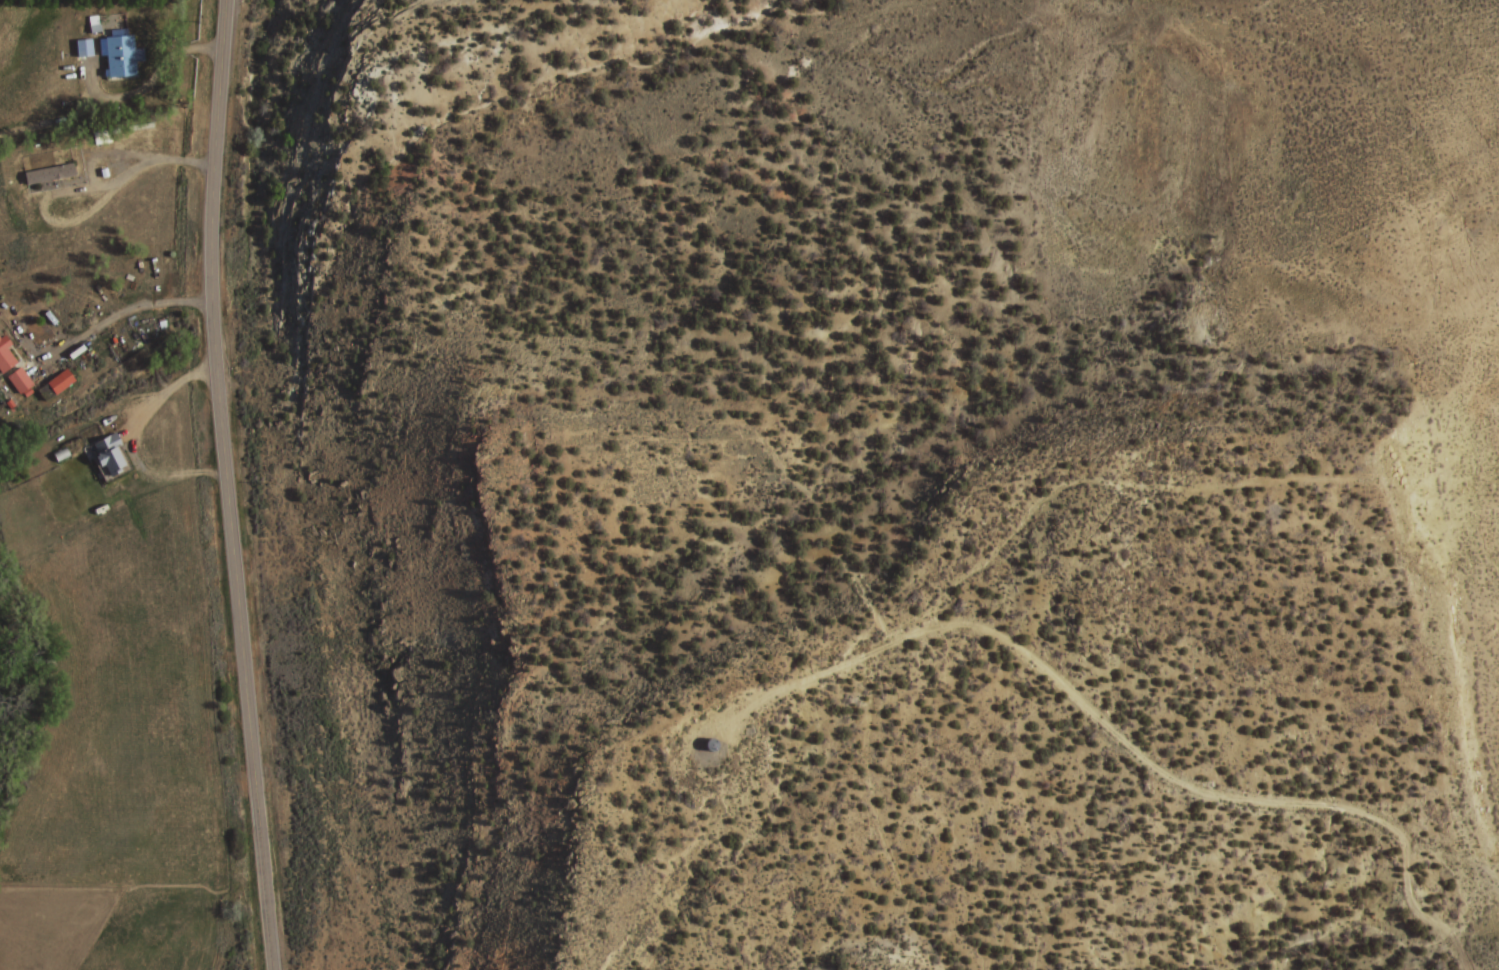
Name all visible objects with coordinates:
building: (82, 46)
building: (119, 53)
building: (48, 174)
building: (6, 355)
building: (21, 380)
building: (63, 381)
building: (108, 459)
road: (223, 484)
road: (939, 594)
building: (708, 745)

